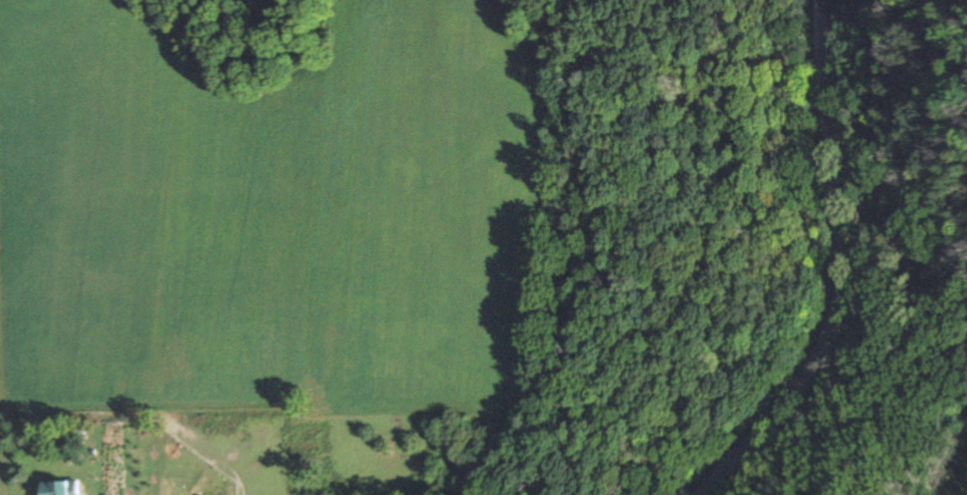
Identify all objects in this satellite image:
road: (826, 267)
building: (59, 488)

